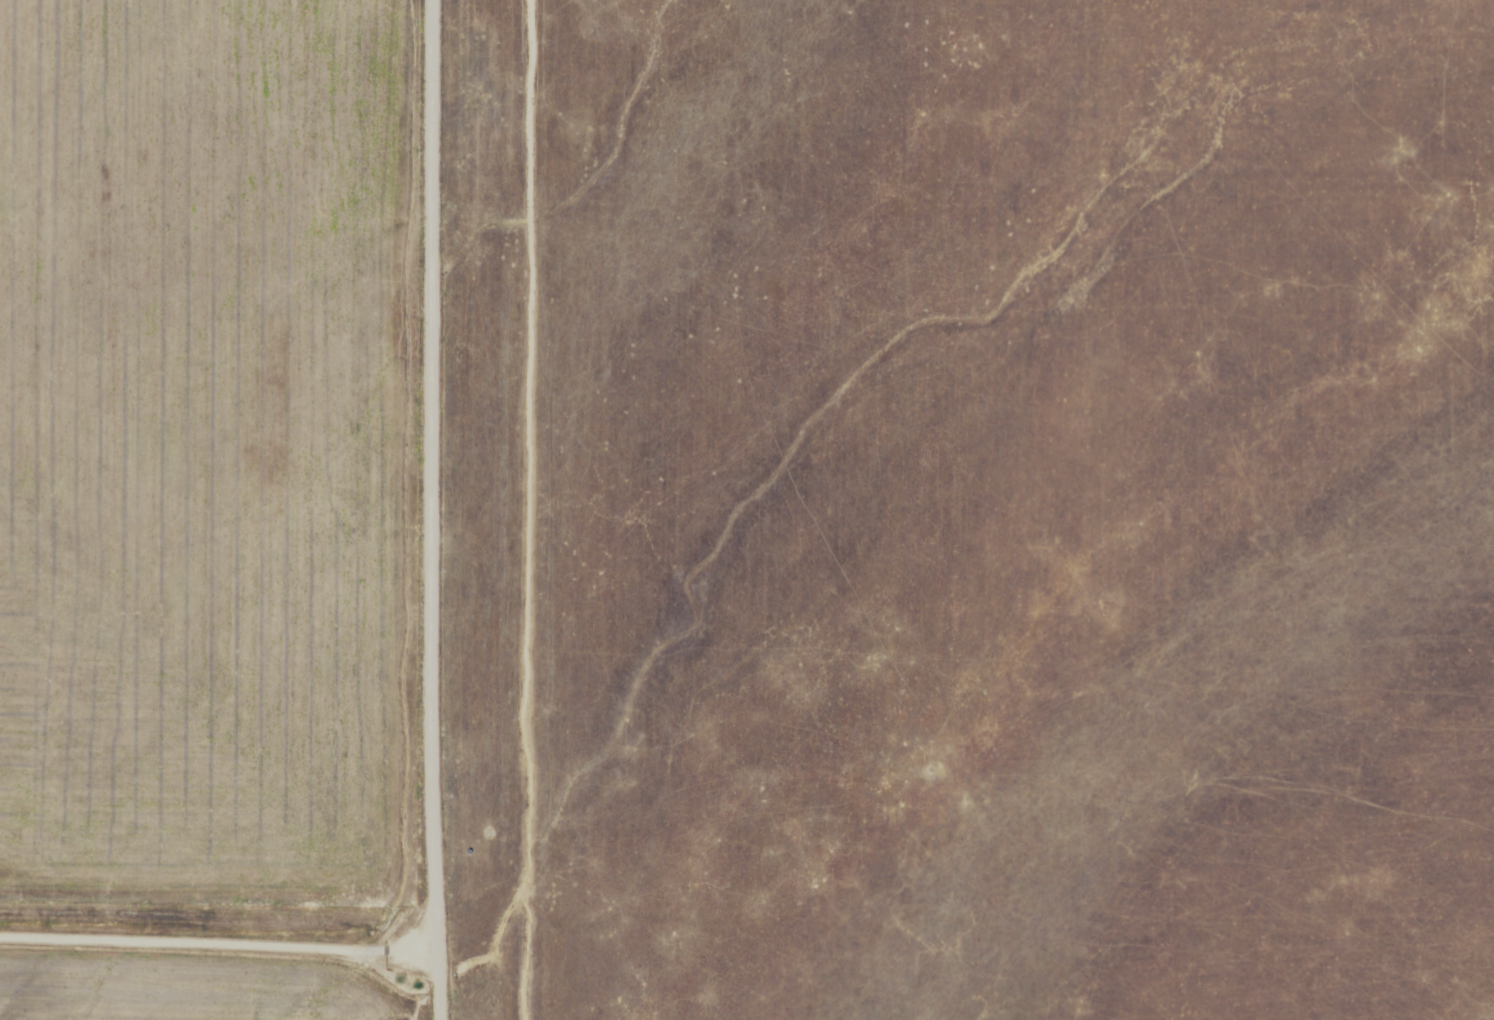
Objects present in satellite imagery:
road: (430, 510)
road: (218, 948)

